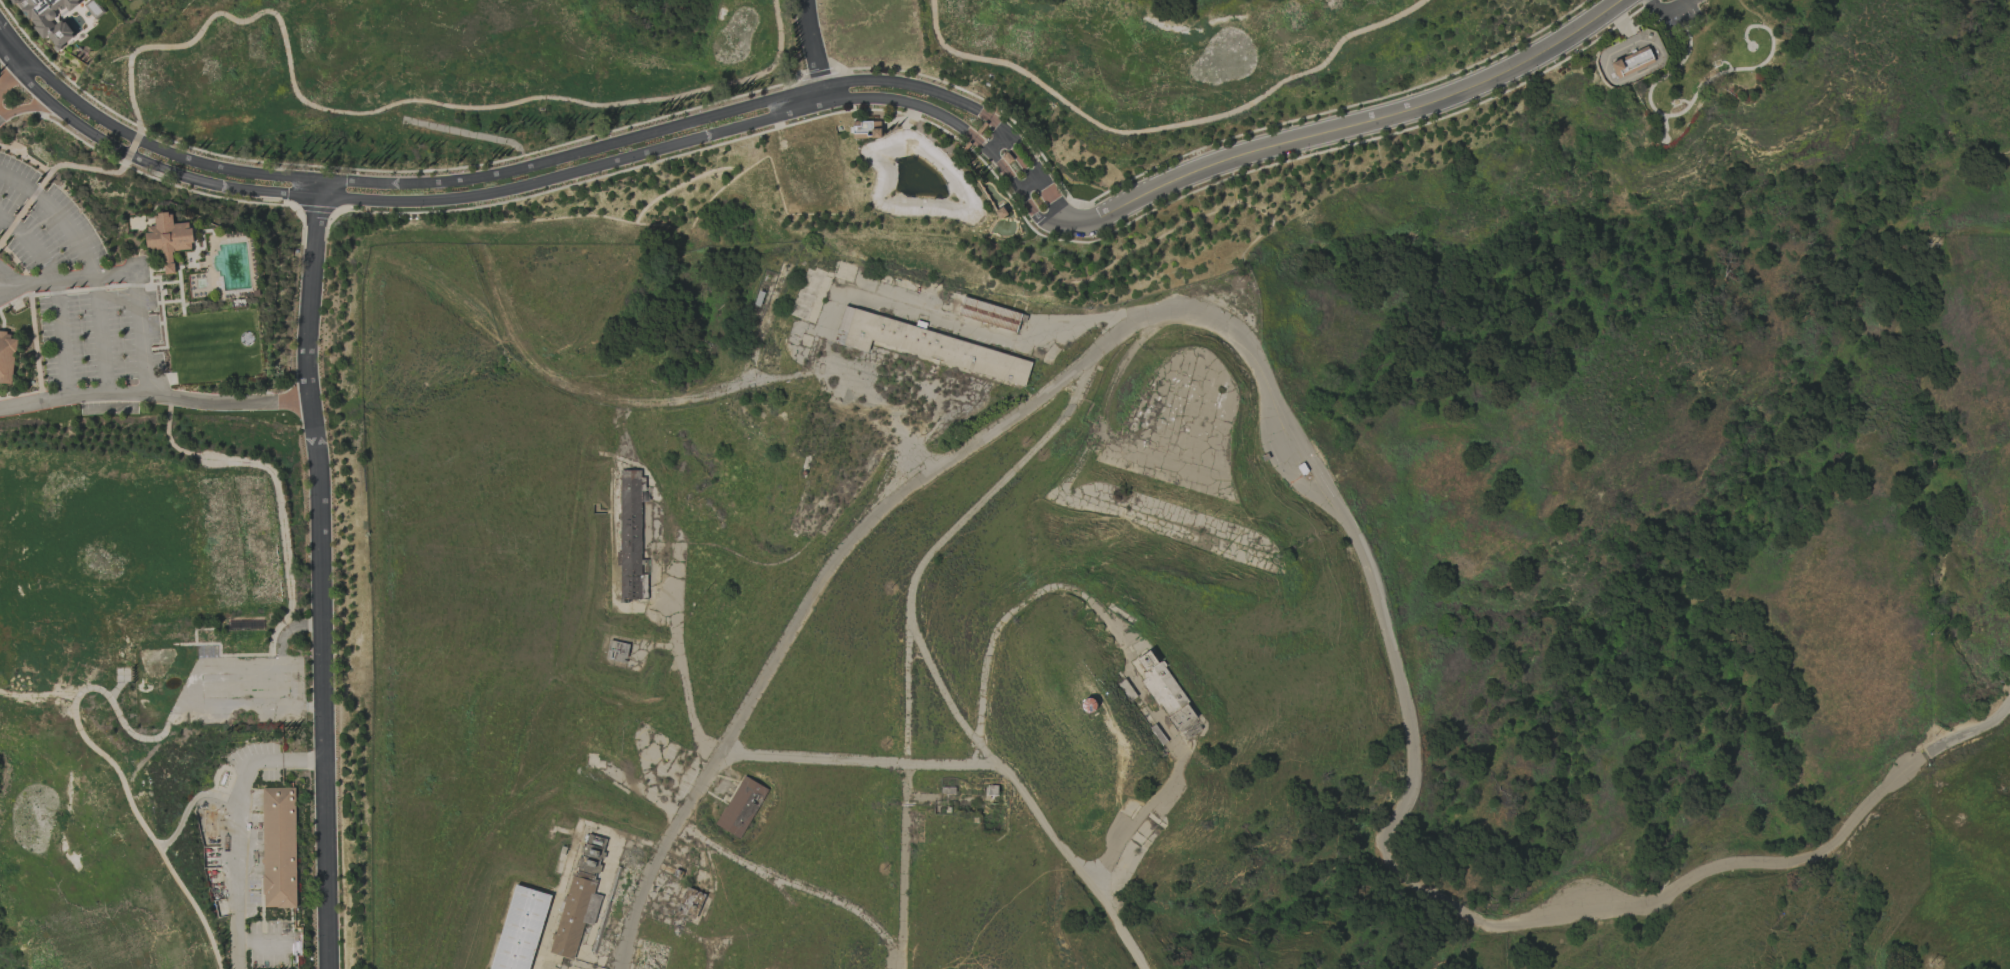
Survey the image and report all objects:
building: (128, 0)
building: (49, 18)
road: (815, 47)
park: (1172, 54)
park: (1704, 58)
park: (441, 74)
road: (8, 77)
road: (30, 107)
road: (4, 112)
road: (1361, 125)
building: (865, 129)
road: (552, 173)
building: (168, 238)
parking lot: (44, 240)
road: (31, 246)
road: (88, 253)
road: (8, 280)
road: (879, 302)
road: (140, 312)
road: (102, 334)
road: (65, 338)
building: (929, 346)
building: (7, 357)
road: (154, 394)
road: (1321, 474)
building: (630, 537)
road: (321, 580)
road: (1124, 637)
park: (116, 666)
road: (683, 671)
building: (1167, 695)
road: (983, 766)
building: (740, 807)
road: (239, 825)
building: (278, 847)
road: (904, 860)
road: (794, 886)
building: (519, 929)
road: (900, 962)

